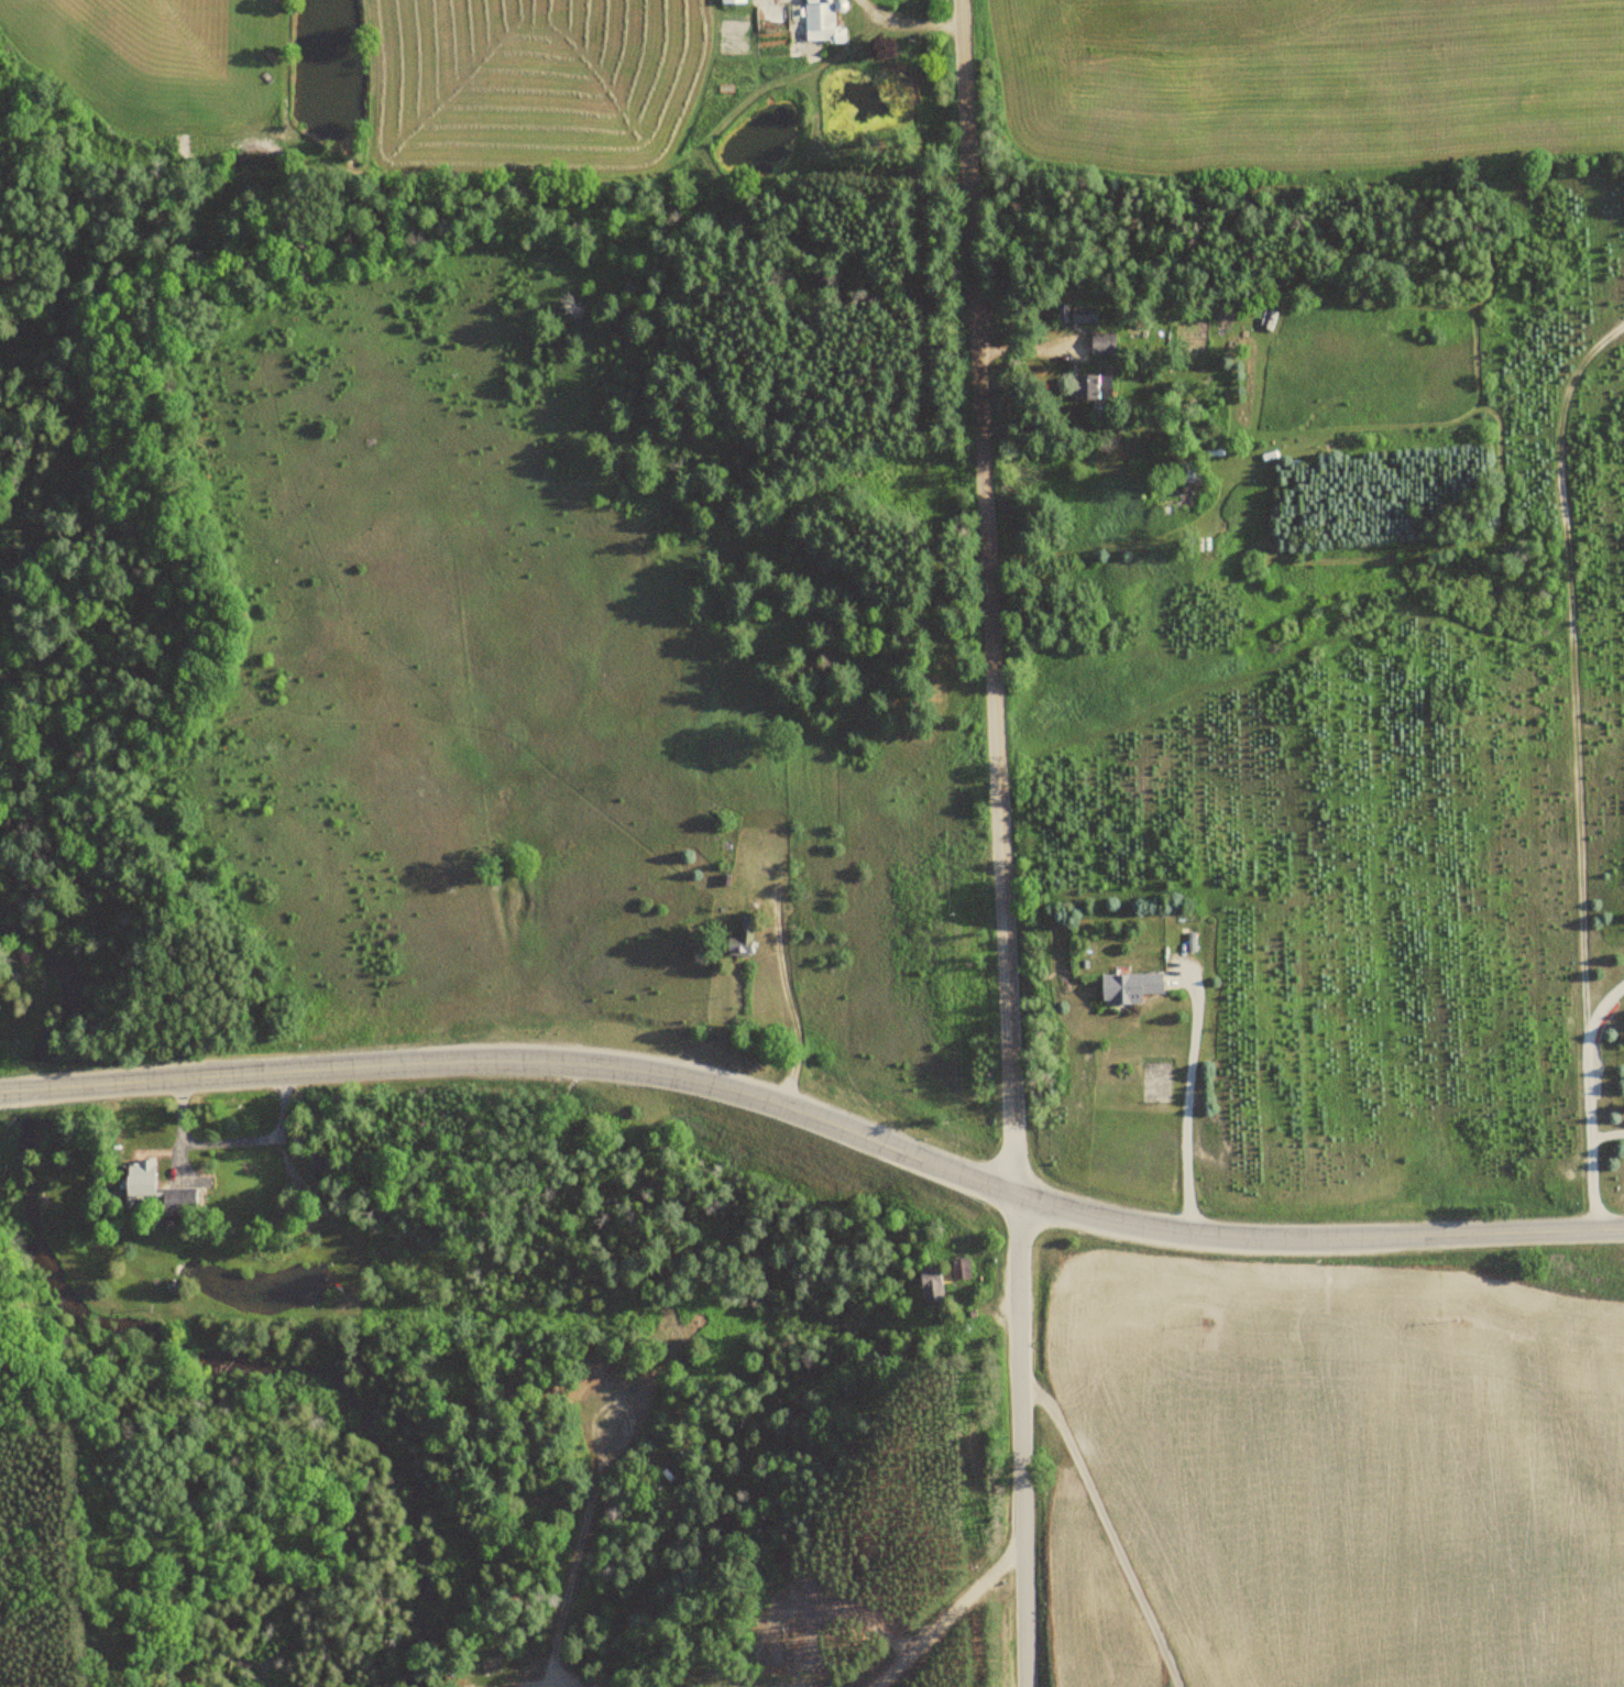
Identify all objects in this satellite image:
building: (731, 1)
building: (812, 20)
building: (1076, 314)
building: (1102, 343)
building: (1089, 386)
building: (1189, 472)
road: (987, 596)
river: (2, 692)
building: (737, 943)
river: (68, 971)
building: (1122, 987)
river: (36, 1088)
road: (815, 1120)
building: (139, 1176)
building: (178, 1196)
building: (957, 1269)
building: (925, 1285)
river: (279, 1365)
road: (1021, 1439)
road: (1108, 1529)
road: (953, 1614)
road: (575, 1684)

